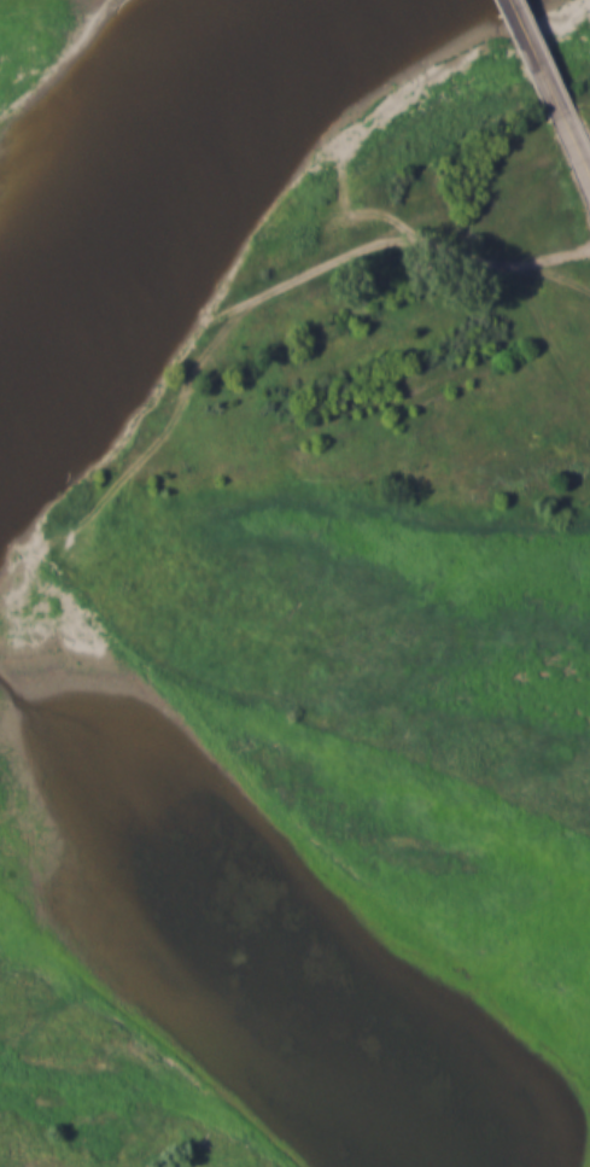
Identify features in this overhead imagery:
road: (533, 57)
road: (574, 144)
river: (138, 148)
road: (366, 206)
road: (300, 274)

